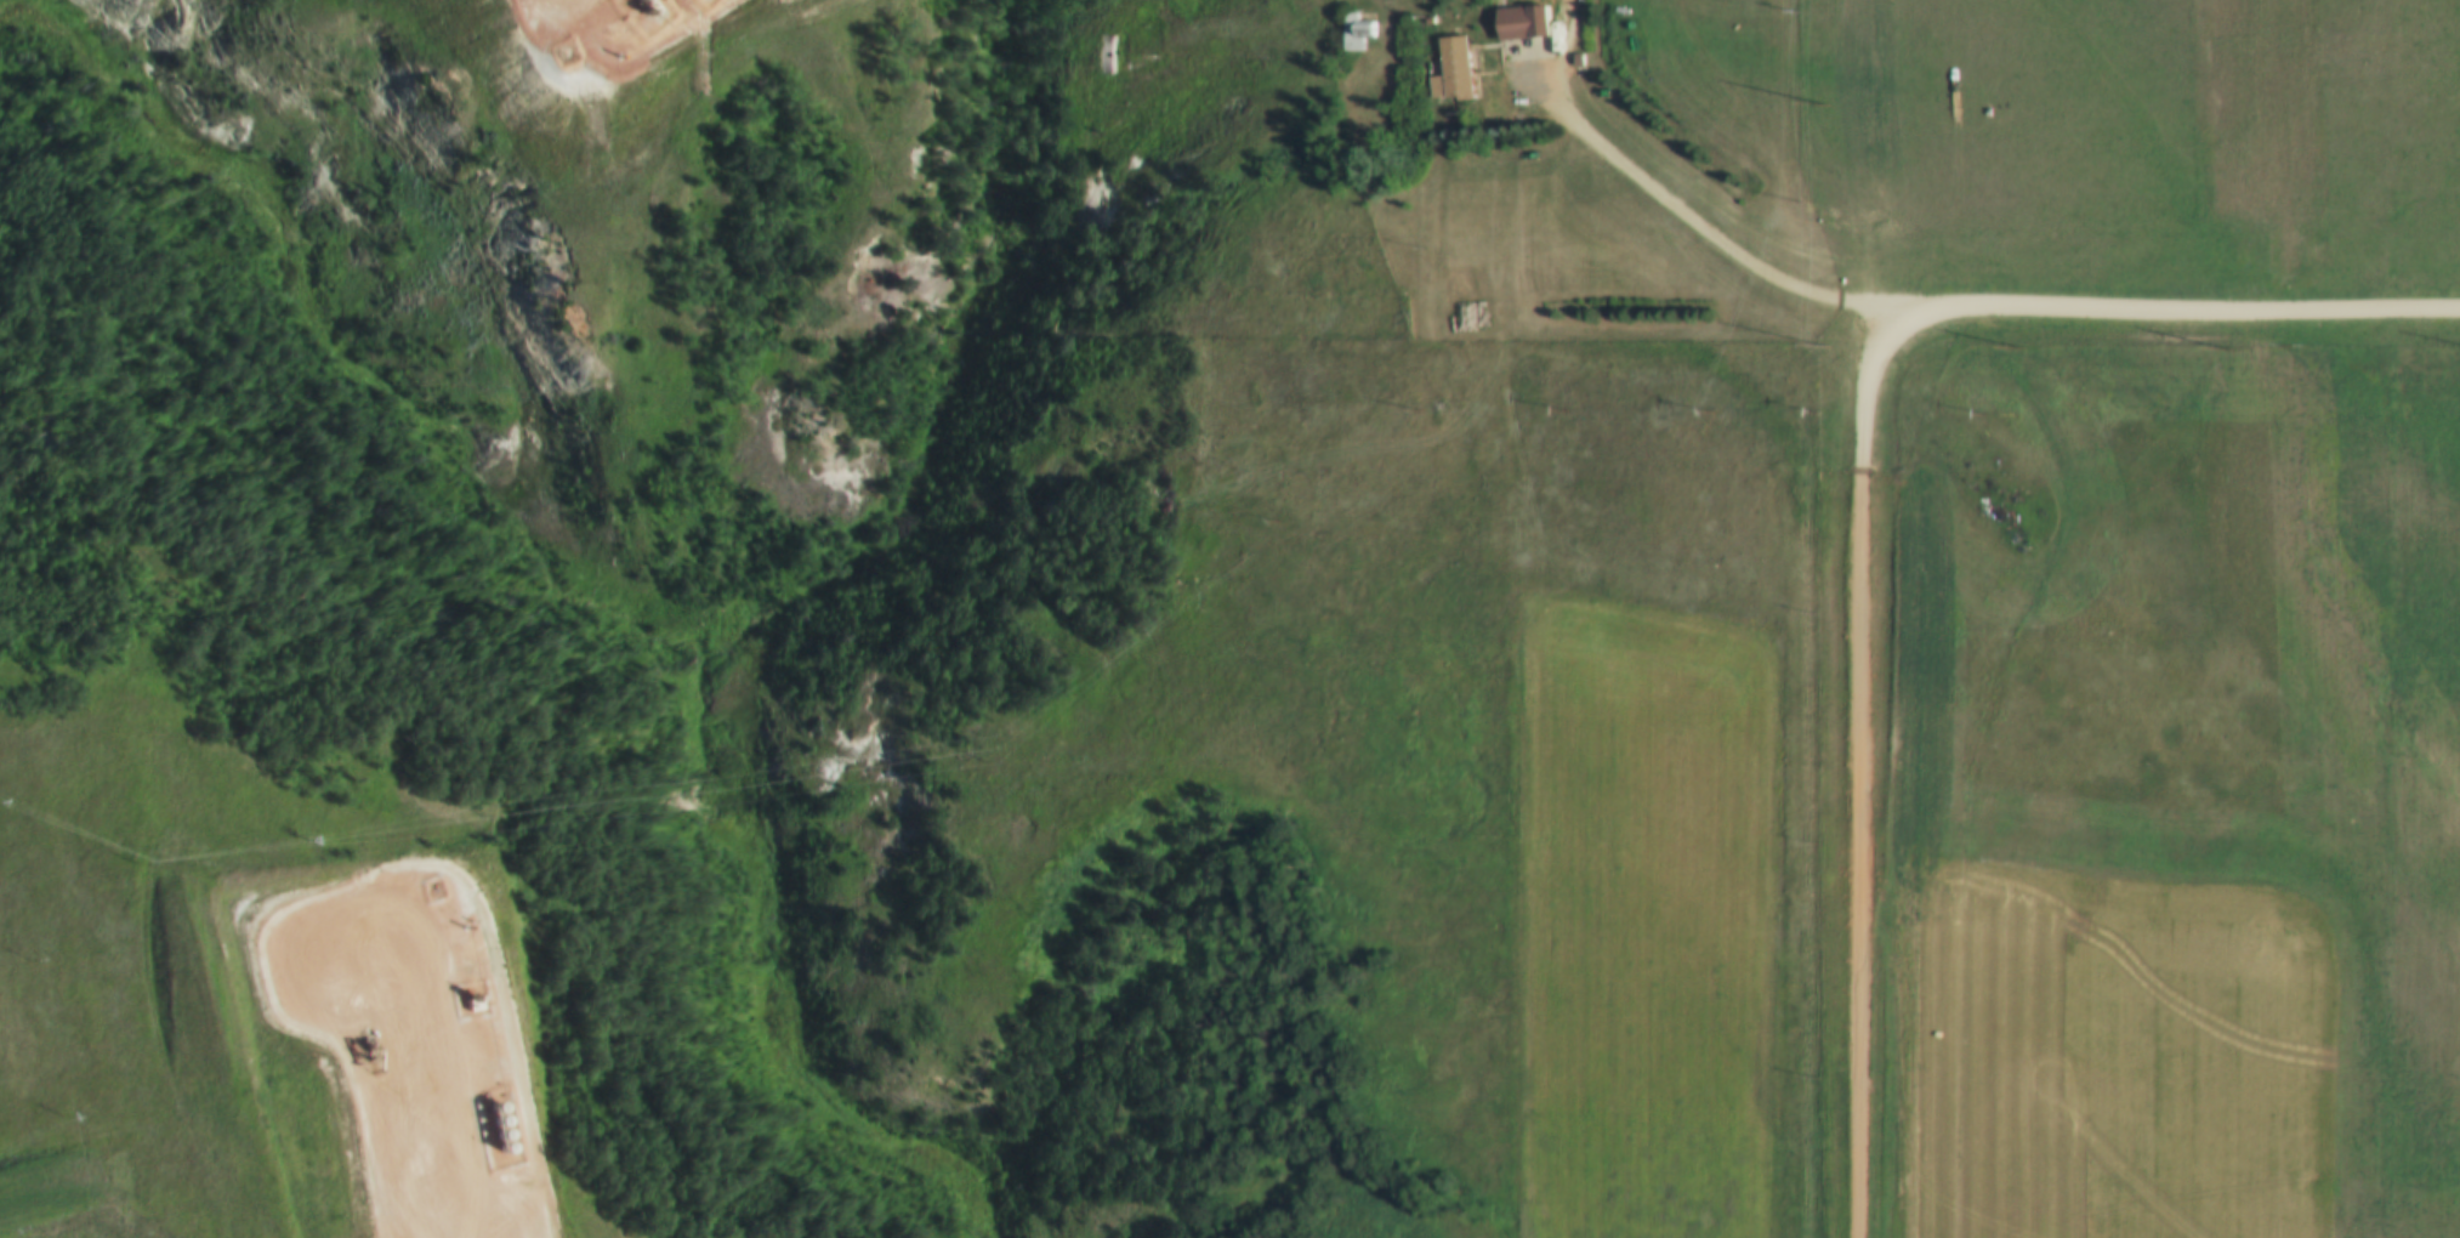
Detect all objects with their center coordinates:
building: (1356, 30)
building: (1449, 75)
road: (1675, 210)
road: (2166, 307)
road: (1853, 768)

